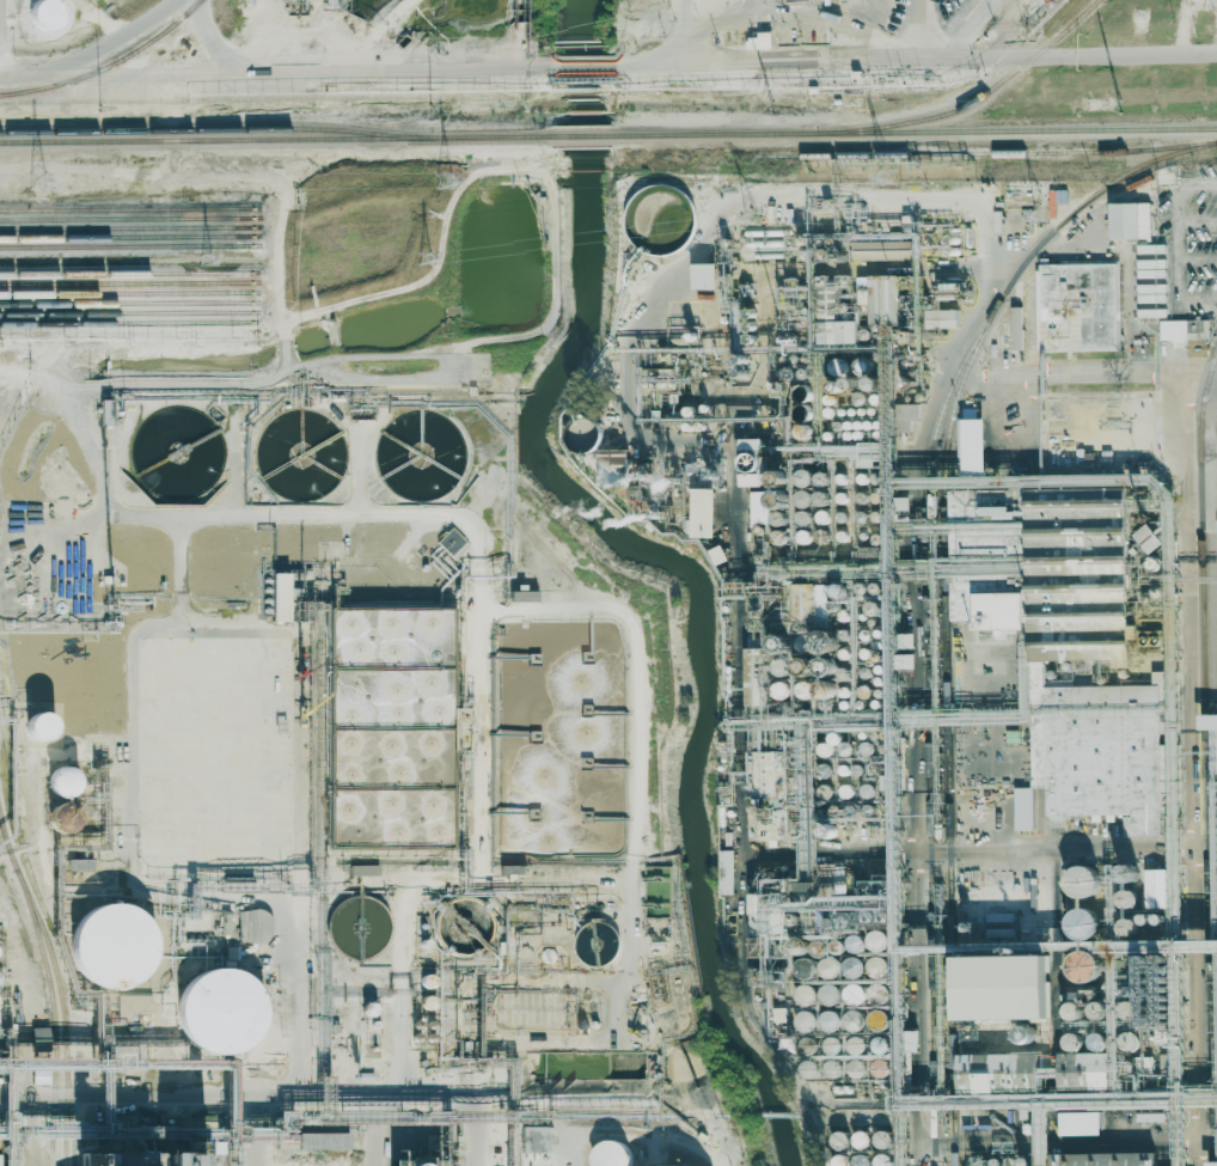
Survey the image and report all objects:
road: (752, 7)
building: (41, 13)
road: (777, 16)
road: (685, 19)
road: (952, 24)
road: (923, 29)
road: (971, 29)
building: (760, 38)
road: (212, 42)
road: (92, 53)
road: (916, 60)
railway: (108, 65)
road: (587, 66)
road: (289, 73)
railway: (971, 100)
power tower: (1121, 105)
power tower: (100, 108)
power tower: (430, 111)
power tower: (771, 111)
railway: (215, 128)
railway: (916, 130)
railway: (582, 135)
railway: (275, 139)
railway: (984, 153)
power tower: (888, 176)
power tower: (38, 179)
power tower: (446, 179)
railway: (127, 208)
power tower: (1041, 214)
railway: (126, 218)
power tower: (751, 218)
building: (1129, 220)
railway: (126, 227)
railway: (126, 236)
railway: (126, 245)
power tower: (204, 256)
power tower: (427, 257)
railway: (126, 271)
building: (703, 275)
railway: (126, 282)
railway: (127, 292)
building: (880, 298)
railway: (127, 303)
building: (1077, 307)
railway: (126, 312)
building: (942, 318)
railway: (127, 322)
building: (1015, 328)
building: (848, 331)
building: (1182, 331)
building: (863, 365)
building: (837, 367)
road: (1199, 374)
building: (104, 413)
building: (906, 416)
building: (803, 432)
building: (582, 435)
building: (972, 445)
building: (751, 463)
building: (616, 470)
building: (801, 477)
building: (802, 499)
building: (820, 499)
building: (763, 505)
building: (703, 513)
building: (822, 517)
building: (802, 518)
building: (778, 519)
building: (803, 537)
building: (781, 538)
building: (1148, 539)
building: (452, 542)
railway: (924, 585)
building: (838, 591)
building: (522, 596)
building: (279, 597)
building: (874, 609)
building: (824, 645)
road: (1187, 648)
building: (1081, 651)
building: (906, 661)
building: (779, 667)
building: (825, 667)
building: (753, 673)
building: (781, 690)
building: (803, 690)
road: (915, 692)
building: (1207, 722)
railway: (946, 725)
building: (39, 728)
railway: (1204, 755)
building: (62, 783)
building: (764, 787)
building: (867, 790)
building: (826, 792)
building: (846, 792)
building: (1023, 808)
building: (60, 820)
building: (78, 865)
building: (363, 869)
building: (512, 869)
building: (726, 872)
building: (1082, 883)
building: (1150, 883)
building: (1127, 901)
building: (1081, 924)
building: (253, 926)
building: (1126, 927)
railway: (44, 932)
building: (875, 941)
building: (595, 942)
building: (855, 944)
building: (111, 948)
building: (876, 966)
building: (828, 967)
building: (852, 967)
building: (1083, 967)
building: (426, 982)
building: (1002, 991)
building: (806, 995)
building: (828, 995)
building: (854, 995)
building: (426, 1003)
building: (133, 1006)
building: (368, 1009)
building: (1071, 1012)
building: (219, 1013)
railway: (54, 1014)
building: (830, 1020)
building: (875, 1020)
building: (854, 1021)
building: (806, 1022)
building: (38, 1036)
building: (1025, 1036)
building: (1099, 1043)
building: (1130, 1043)
building: (877, 1045)
building: (808, 1046)
building: (833, 1046)
building: (856, 1046)
building: (877, 1068)
building: (1082, 1068)
building: (856, 1069)
road: (233, 1100)
railway: (67, 1111)
railway: (71, 1111)
building: (1080, 1123)
road: (32, 1133)
road: (373, 1134)
road: (469, 1134)
building: (861, 1137)
building: (882, 1137)
building: (536, 1138)
building: (839, 1138)
building: (323, 1140)
building: (610, 1153)
building: (173, 1155)
building: (1102, 1158)
building: (838, 1160)
building: (879, 1160)
building: (414, 1161)

